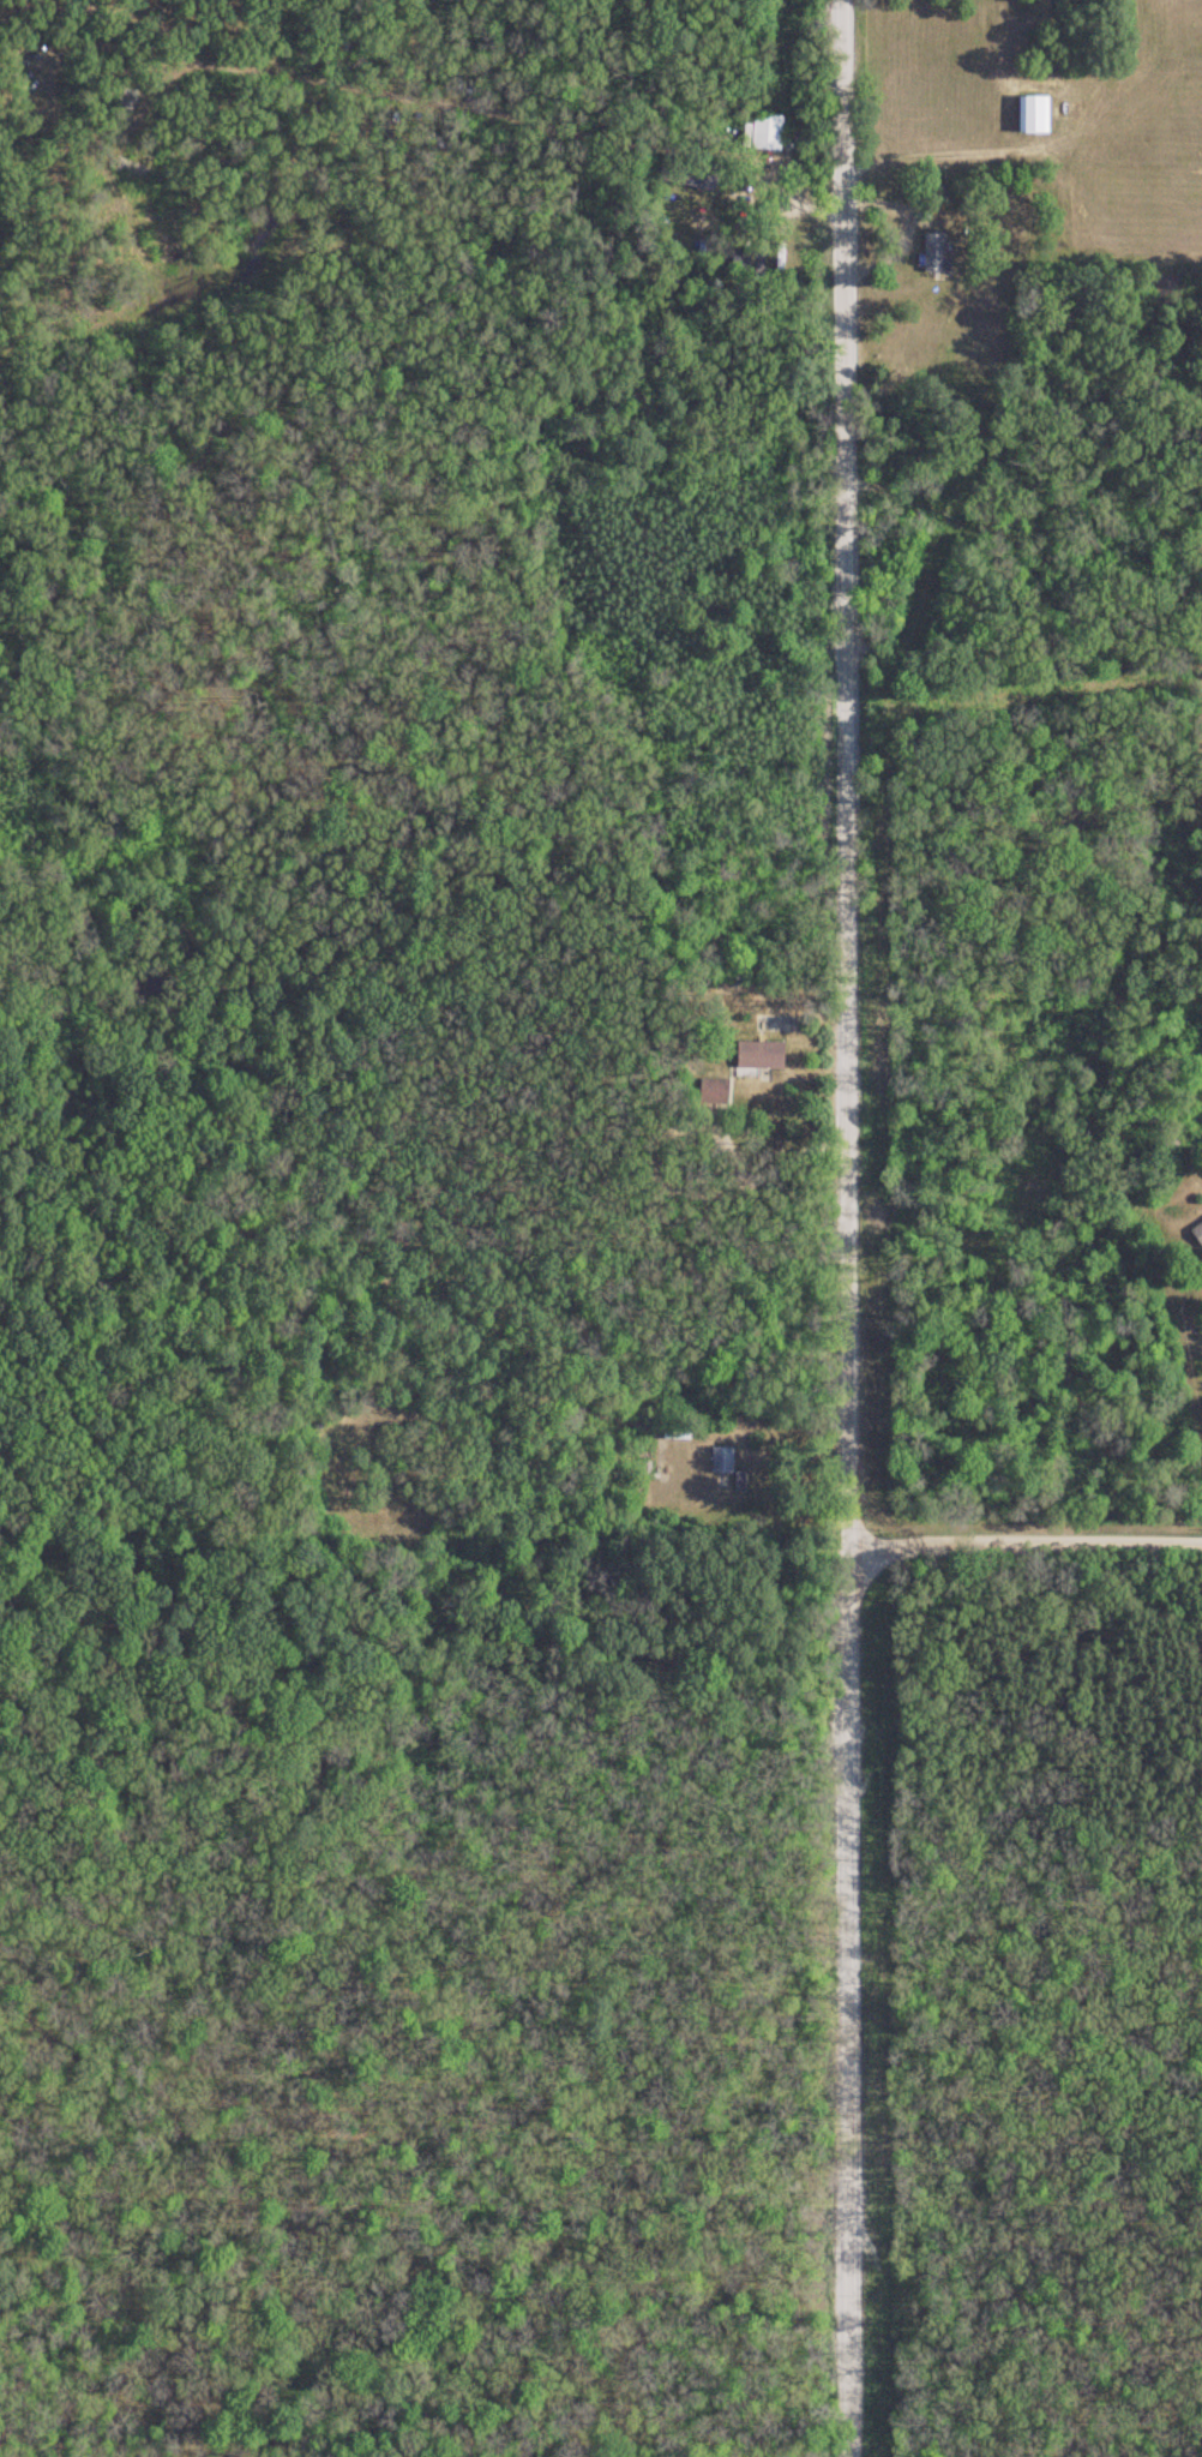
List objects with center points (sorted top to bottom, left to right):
building: (763, 134)
building: (933, 252)
road: (839, 1228)
building: (1196, 1234)
building: (720, 1461)
building: (753, 1481)
road: (1022, 1515)

